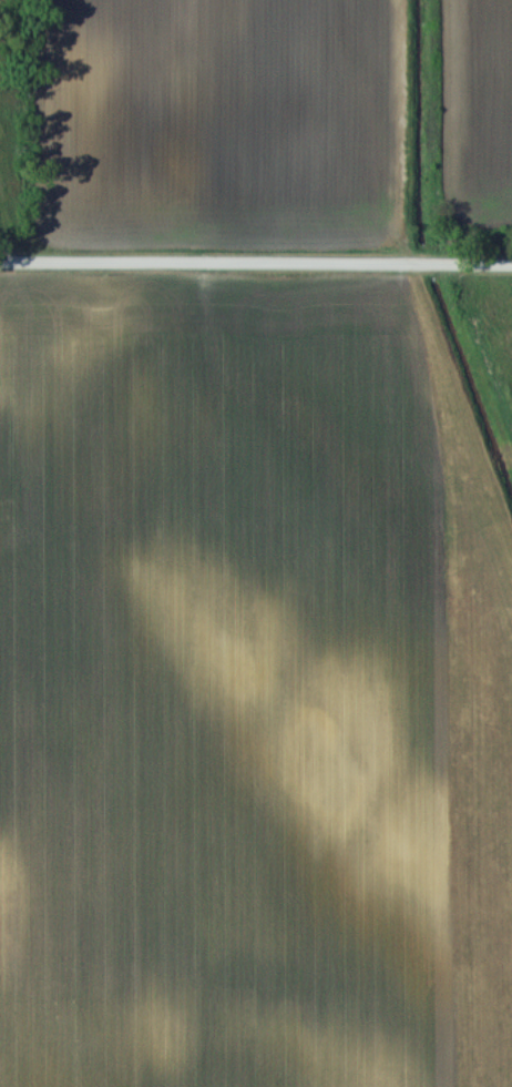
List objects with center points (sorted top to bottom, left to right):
road: (166, 261)
road: (422, 262)

